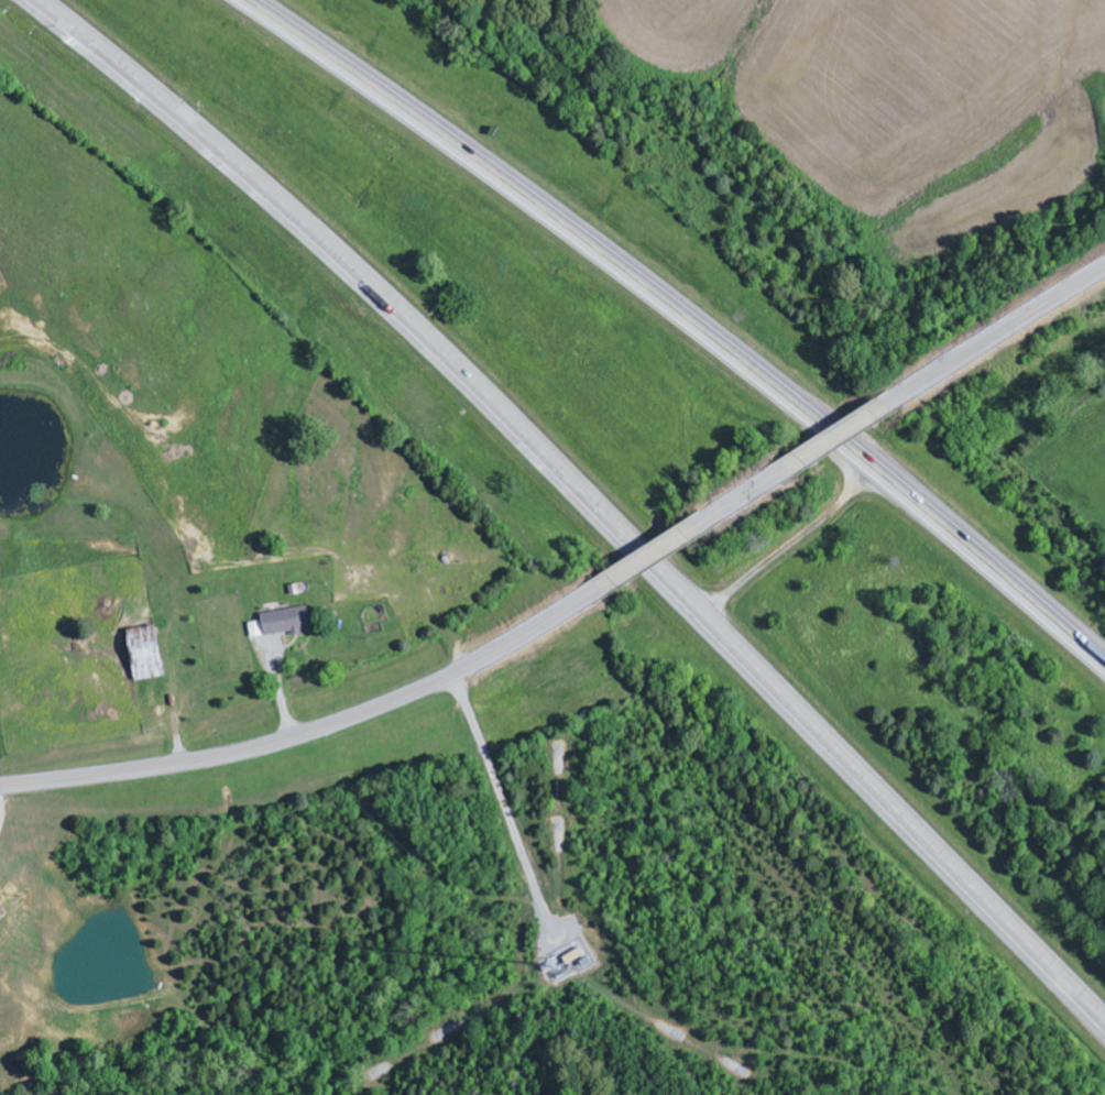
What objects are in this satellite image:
road: (686, 317)
road: (997, 335)
road: (838, 432)
road: (584, 495)
road: (739, 496)
road: (645, 557)
building: (284, 623)
building: (149, 654)
road: (313, 729)
building: (2, 912)

